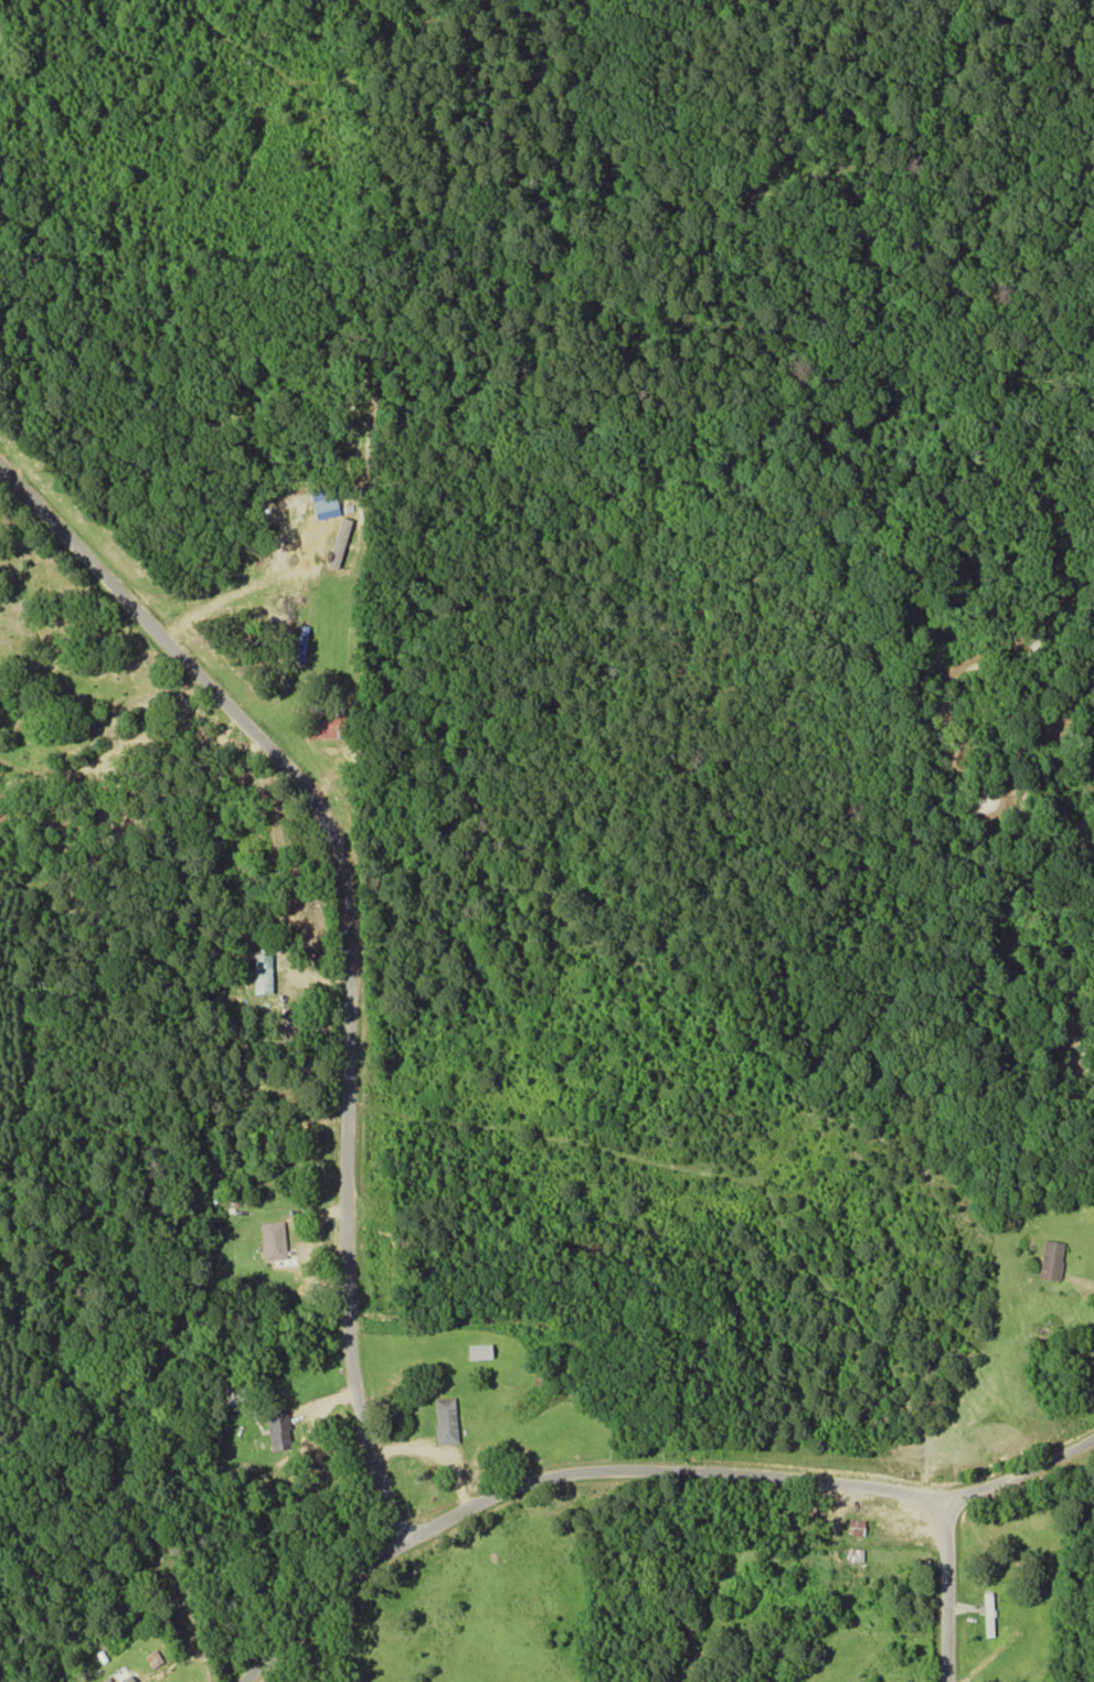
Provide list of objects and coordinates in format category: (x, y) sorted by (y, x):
building: (322, 507)
road: (344, 945)
building: (262, 972)
building: (269, 1239)
building: (1049, 1258)
building: (475, 1350)
building: (443, 1418)
building: (275, 1427)
road: (1021, 1470)
road: (559, 1476)
building: (852, 1525)
building: (851, 1553)
road: (944, 1589)
building: (124, 1678)

